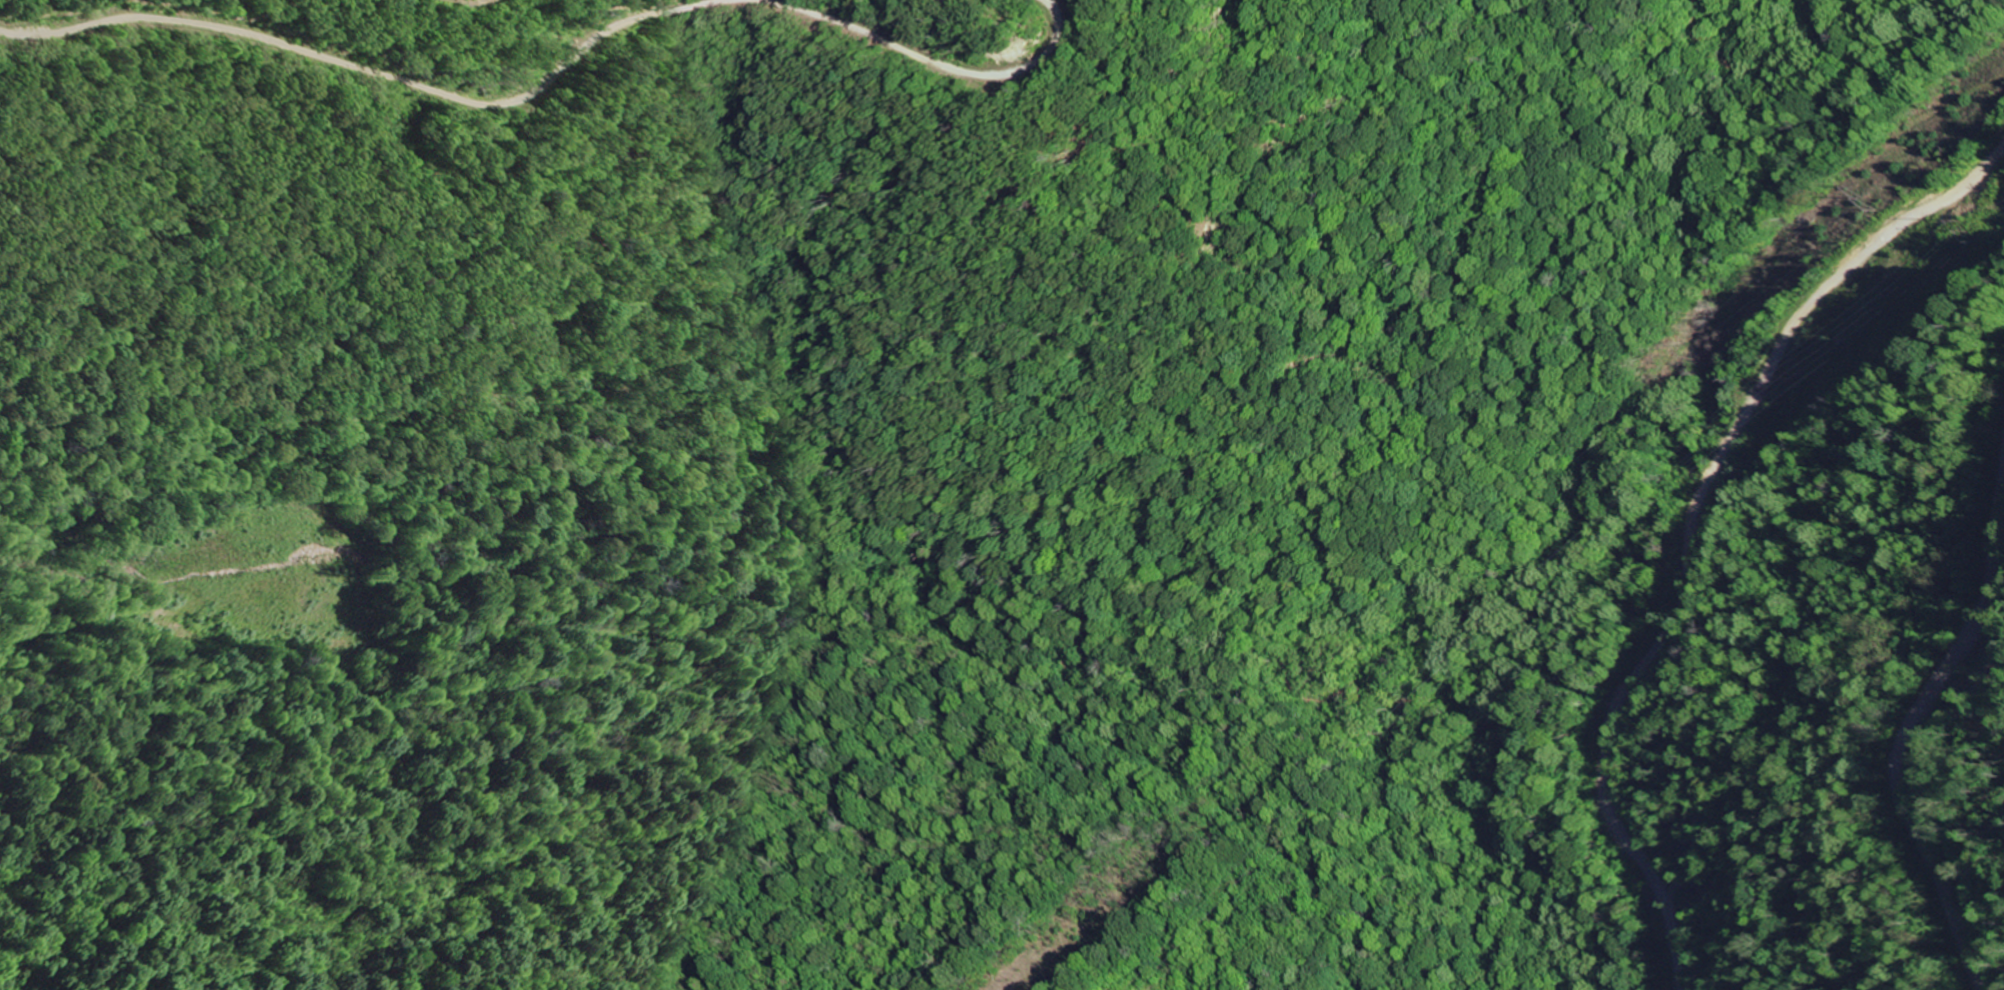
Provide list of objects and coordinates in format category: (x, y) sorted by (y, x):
power tower: (1864, 193)
power tower: (1975, 235)
road: (1701, 536)

